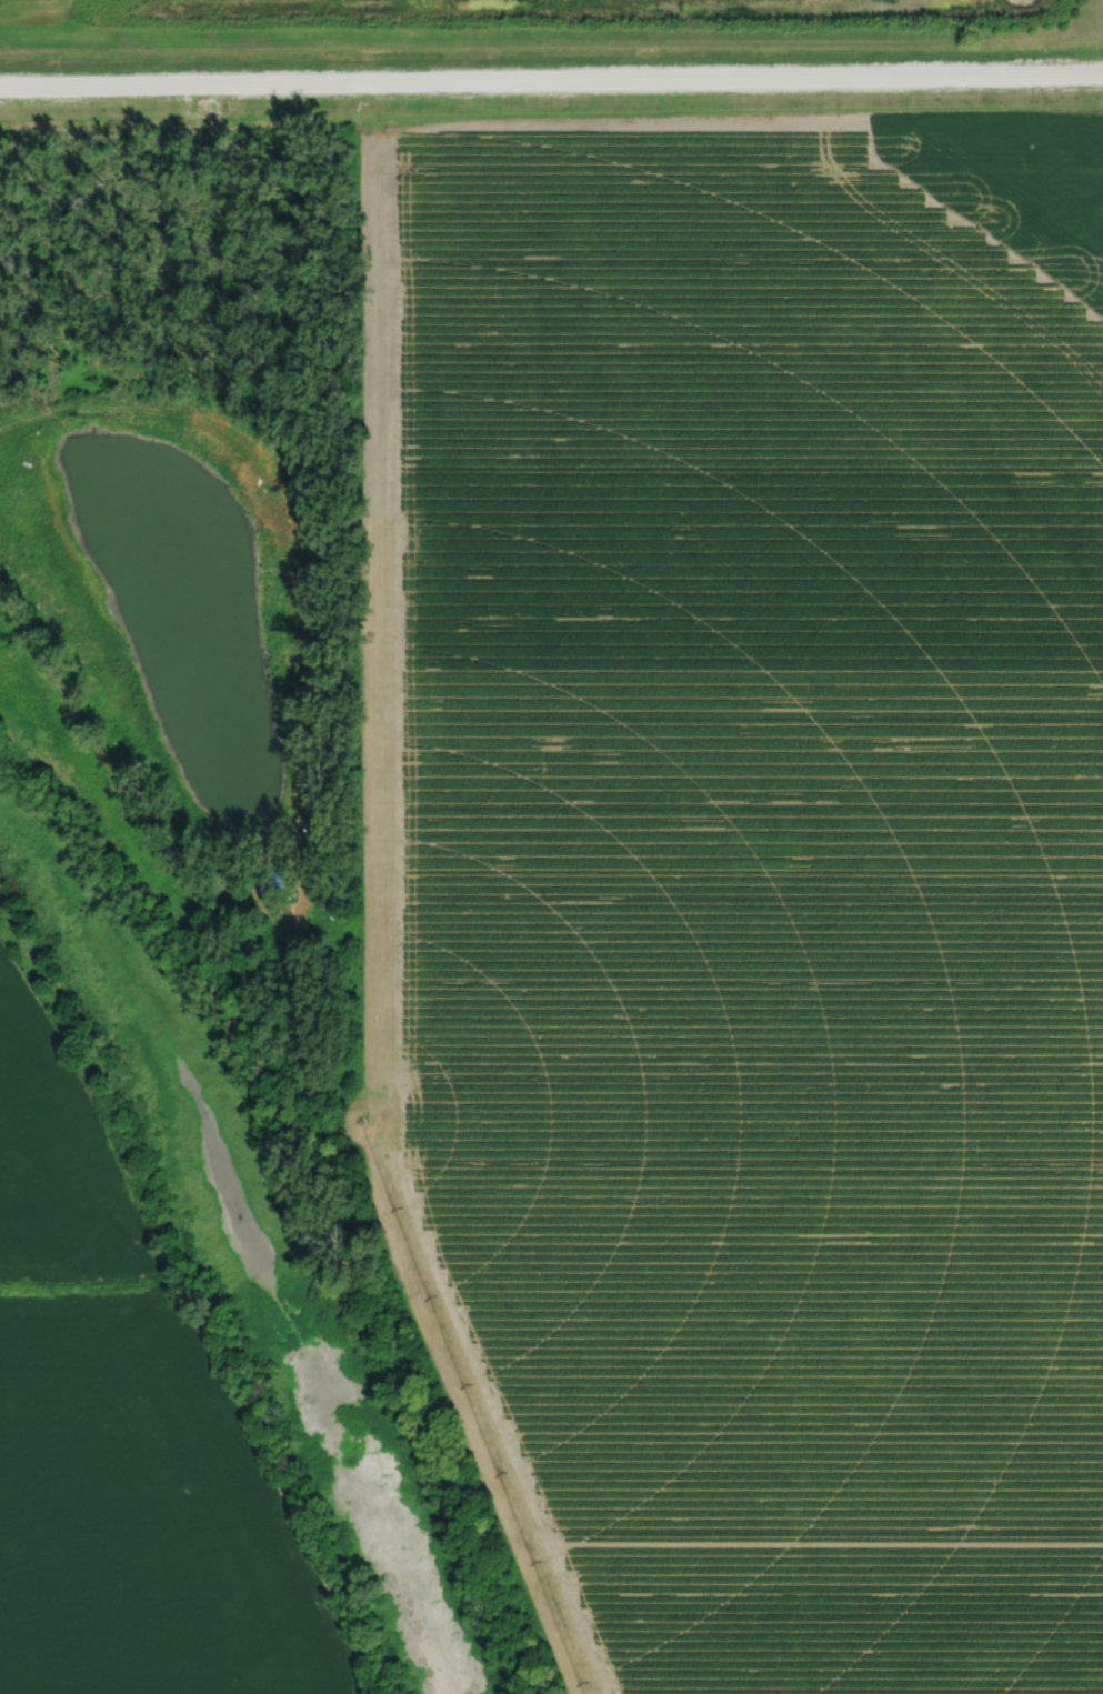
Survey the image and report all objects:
road: (551, 76)
road: (277, 504)
road: (57, 682)
crop: (748, 898)
crop: (126, 1436)

